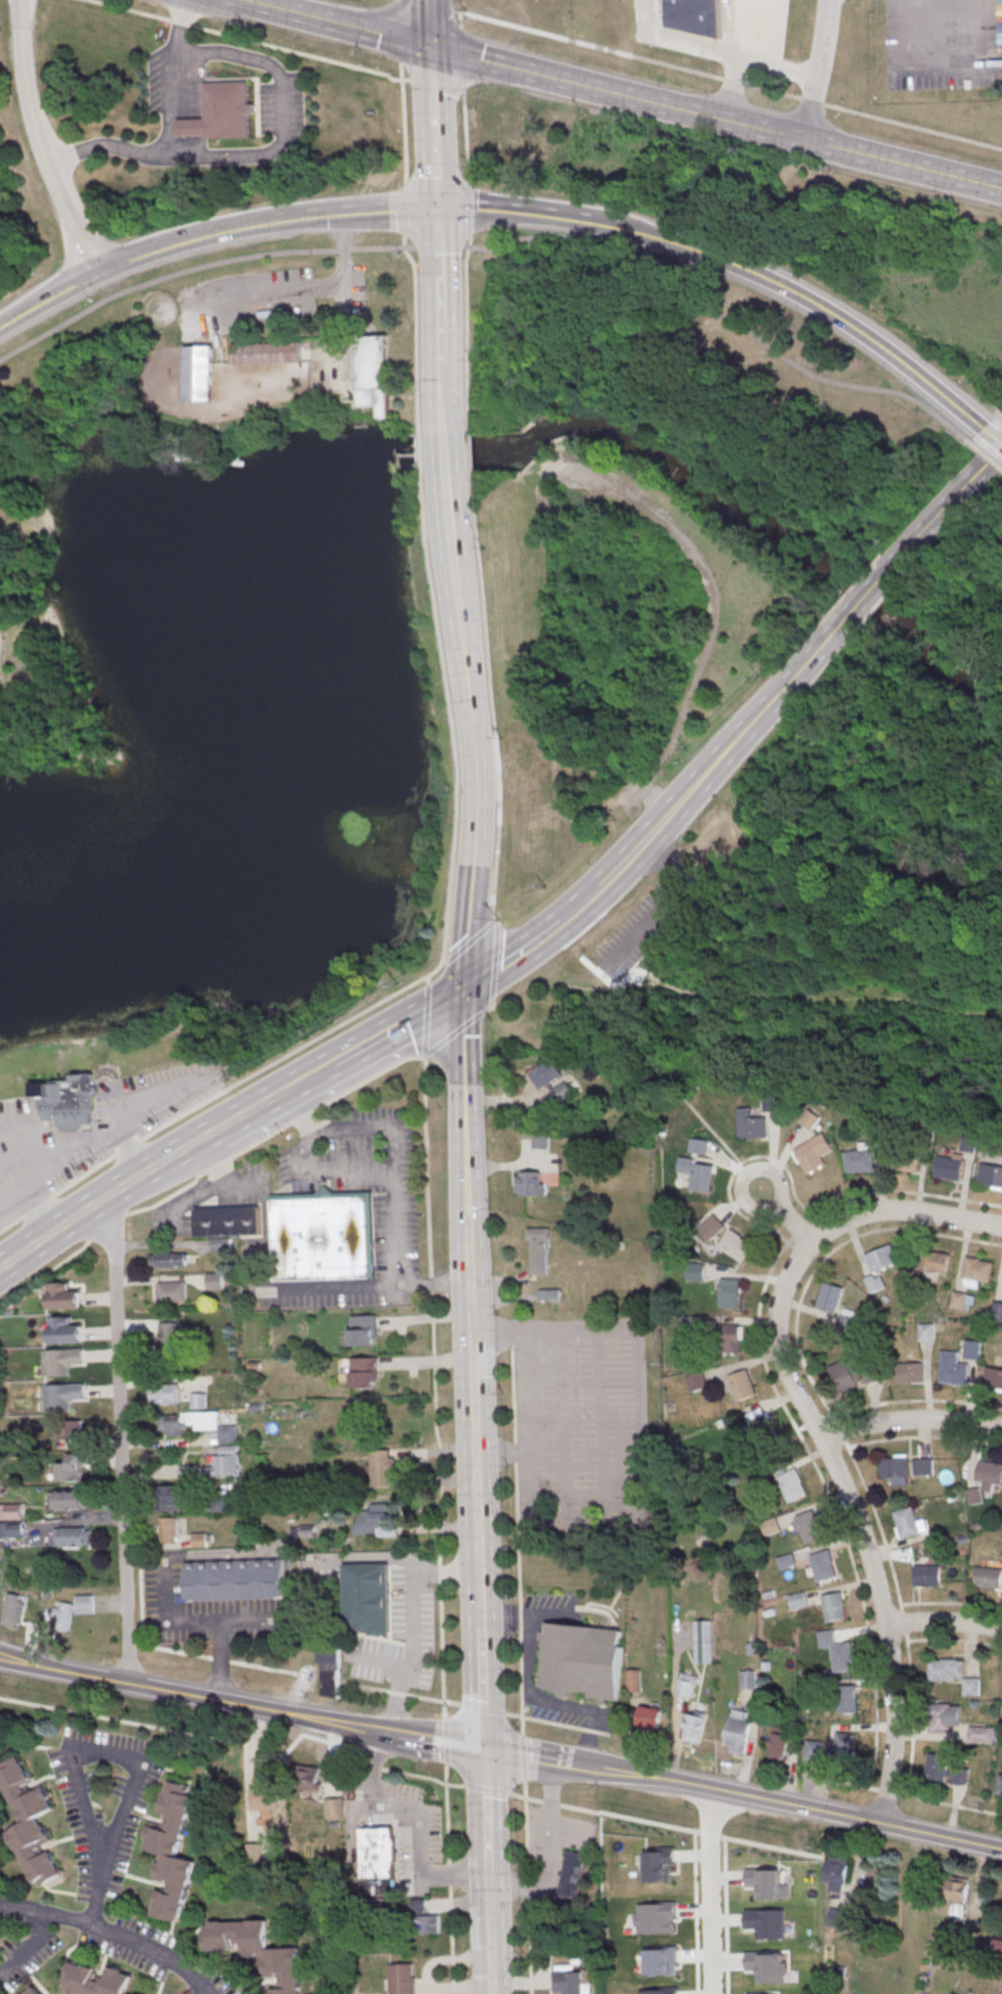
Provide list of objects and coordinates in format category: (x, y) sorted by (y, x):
road: (249, 1)
road: (425, 6)
road: (125, 11)
building: (695, 15)
road: (334, 23)
road: (429, 23)
road: (461, 23)
road: (182, 26)
road: (398, 32)
parking lot: (944, 44)
road: (587, 46)
traffic signals: (429, 47)
road: (302, 56)
road: (463, 62)
road: (505, 66)
road: (430, 68)
road: (820, 69)
road: (438, 87)
road: (761, 89)
road: (165, 99)
road: (812, 103)
building: (222, 113)
road: (404, 121)
road: (913, 127)
road: (792, 135)
road: (35, 141)
road: (273, 144)
road: (433, 150)
road: (403, 207)
traffic signals: (435, 211)
road: (526, 212)
road: (354, 214)
road: (439, 246)
road: (130, 257)
road: (467, 260)
road: (197, 266)
road: (438, 287)
road: (257, 295)
road: (343, 301)
road: (814, 303)
park: (22, 309)
road: (722, 316)
road: (418, 331)
building: (267, 352)
building: (375, 373)
building: (199, 374)
road: (443, 397)
road: (994, 432)
road: (987, 451)
dam: (417, 452)
road: (473, 452)
road: (424, 454)
road: (446, 454)
river: (455, 454)
river: (684, 477)
building: (575, 494)
road: (947, 504)
road: (18, 519)
road: (451, 535)
river: (871, 594)
road: (866, 596)
park: (88, 609)
road: (713, 613)
road: (21, 626)
parking lot: (0, 637)
river: (938, 659)
park: (594, 664)
road: (42, 679)
road: (494, 701)
road: (448, 713)
road: (11, 718)
road: (751, 722)
pier: (189, 734)
pier: (153, 744)
road: (59, 745)
river: (282, 752)
road: (476, 790)
parking lot: (637, 791)
road: (802, 844)
road: (633, 850)
road: (580, 904)
road: (663, 909)
road: (807, 925)
road: (497, 926)
road: (499, 927)
parking lot: (637, 935)
road: (820, 936)
road: (471, 947)
road: (513, 957)
road: (445, 967)
road: (442, 968)
road: (496, 969)
building: (636, 978)
road: (543, 985)
road: (613, 988)
traffic signals: (464, 990)
road: (869, 994)
road: (490, 1011)
road: (355, 1018)
road: (398, 1026)
road: (498, 1026)
road: (648, 1064)
road: (310, 1075)
building: (551, 1079)
building: (70, 1100)
road: (328, 1105)
road: (250, 1108)
road: (462, 1114)
building: (750, 1124)
building: (542, 1139)
road: (393, 1142)
building: (967, 1144)
road: (130, 1146)
road: (303, 1151)
building: (812, 1153)
building: (859, 1159)
building: (904, 1161)
road: (219, 1165)
road: (768, 1168)
building: (948, 1169)
road: (349, 1173)
building: (697, 1173)
road: (85, 1174)
building: (990, 1176)
parking lot: (39, 1178)
building: (530, 1183)
road: (106, 1196)
road: (168, 1198)
road: (38, 1205)
building: (229, 1223)
road: (11, 1224)
building: (712, 1225)
road: (108, 1228)
building: (323, 1240)
building: (219, 1244)
building: (735, 1244)
building: (539, 1250)
building: (881, 1258)
building: (170, 1259)
road: (467, 1261)
building: (932, 1261)
building: (976, 1271)
road: (46, 1274)
building: (215, 1281)
building: (874, 1282)
road: (433, 1284)
road: (338, 1287)
building: (173, 1293)
building: (729, 1293)
building: (829, 1297)
building: (65, 1299)
building: (996, 1311)
road: (432, 1316)
building: (925, 1331)
building: (363, 1332)
building: (66, 1334)
building: (731, 1338)
building: (169, 1344)
building: (972, 1349)
building: (63, 1362)
building: (953, 1371)
building: (909, 1373)
building: (365, 1374)
building: (845, 1375)
building: (993, 1380)
building: (696, 1381)
building: (741, 1384)
building: (166, 1396)
building: (63, 1397)
building: (199, 1402)
road: (908, 1420)
building: (759, 1423)
building: (200, 1426)
road: (561, 1426)
road: (472, 1427)
building: (72, 1429)
road: (600, 1430)
road: (813, 1430)
road: (121, 1435)
road: (497, 1461)
building: (922, 1466)
building: (216, 1468)
building: (895, 1468)
building: (73, 1470)
building: (383, 1470)
building: (989, 1475)
building: (792, 1485)
building: (170, 1497)
building: (71, 1502)
road: (645, 1502)
building: (221, 1505)
building: (12, 1512)
building: (375, 1519)
building: (909, 1522)
building: (808, 1526)
building: (12, 1531)
building: (169, 1531)
building: (73, 1538)
building: (202, 1541)
road: (517, 1541)
road: (283, 1551)
road: (366, 1557)
building: (823, 1565)
building: (318, 1566)
building: (927, 1575)
road: (441, 1577)
building: (989, 1577)
building: (236, 1580)
road: (478, 1598)
building: (369, 1600)
building: (797, 1600)
building: (84, 1606)
building: (833, 1606)
building: (14, 1612)
road: (409, 1617)
building: (63, 1618)
road: (942, 1622)
building: (702, 1642)
road: (443, 1654)
building: (842, 1656)
road: (217, 1660)
road: (376, 1661)
building: (581, 1661)
building: (947, 1669)
road: (63, 1671)
building: (329, 1671)
building: (633, 1679)
building: (747, 1679)
building: (686, 1684)
road: (533, 1687)
road: (481, 1688)
building: (847, 1698)
road: (261, 1708)
road: (477, 1710)
building: (946, 1716)
building: (649, 1718)
building: (694, 1726)
road: (142, 1727)
building: (738, 1731)
building: (981, 1733)
road: (439, 1742)
building: (778, 1742)
building: (842, 1744)
road: (447, 1745)
traffic signals: (484, 1750)
road: (526, 1758)
road: (525, 1760)
road: (136, 1765)
building: (945, 1770)
road: (248, 1776)
building: (308, 1780)
road: (425, 1781)
building: (1000, 1789)
road: (488, 1792)
road: (725, 1793)
road: (903, 1795)
building: (266, 1800)
building: (335, 1810)
road: (484, 1811)
road: (418, 1814)
building: (28, 1820)
road: (665, 1824)
road: (941, 1836)
road: (545, 1850)
building: (173, 1851)
building: (378, 1854)
building: (255, 1857)
building: (836, 1873)
building: (574, 1877)
road: (451, 1881)
road: (529, 1888)
road: (712, 1891)
road: (487, 1898)
building: (959, 1898)
building: (418, 1905)
building: (840, 1918)
building: (427, 1923)
road: (110, 1935)
building: (999, 1945)
road: (28, 1947)
building: (258, 1951)
road: (489, 1958)
building: (403, 1980)
building: (571, 1980)
building: (97, 1981)
building: (33, 1991)

